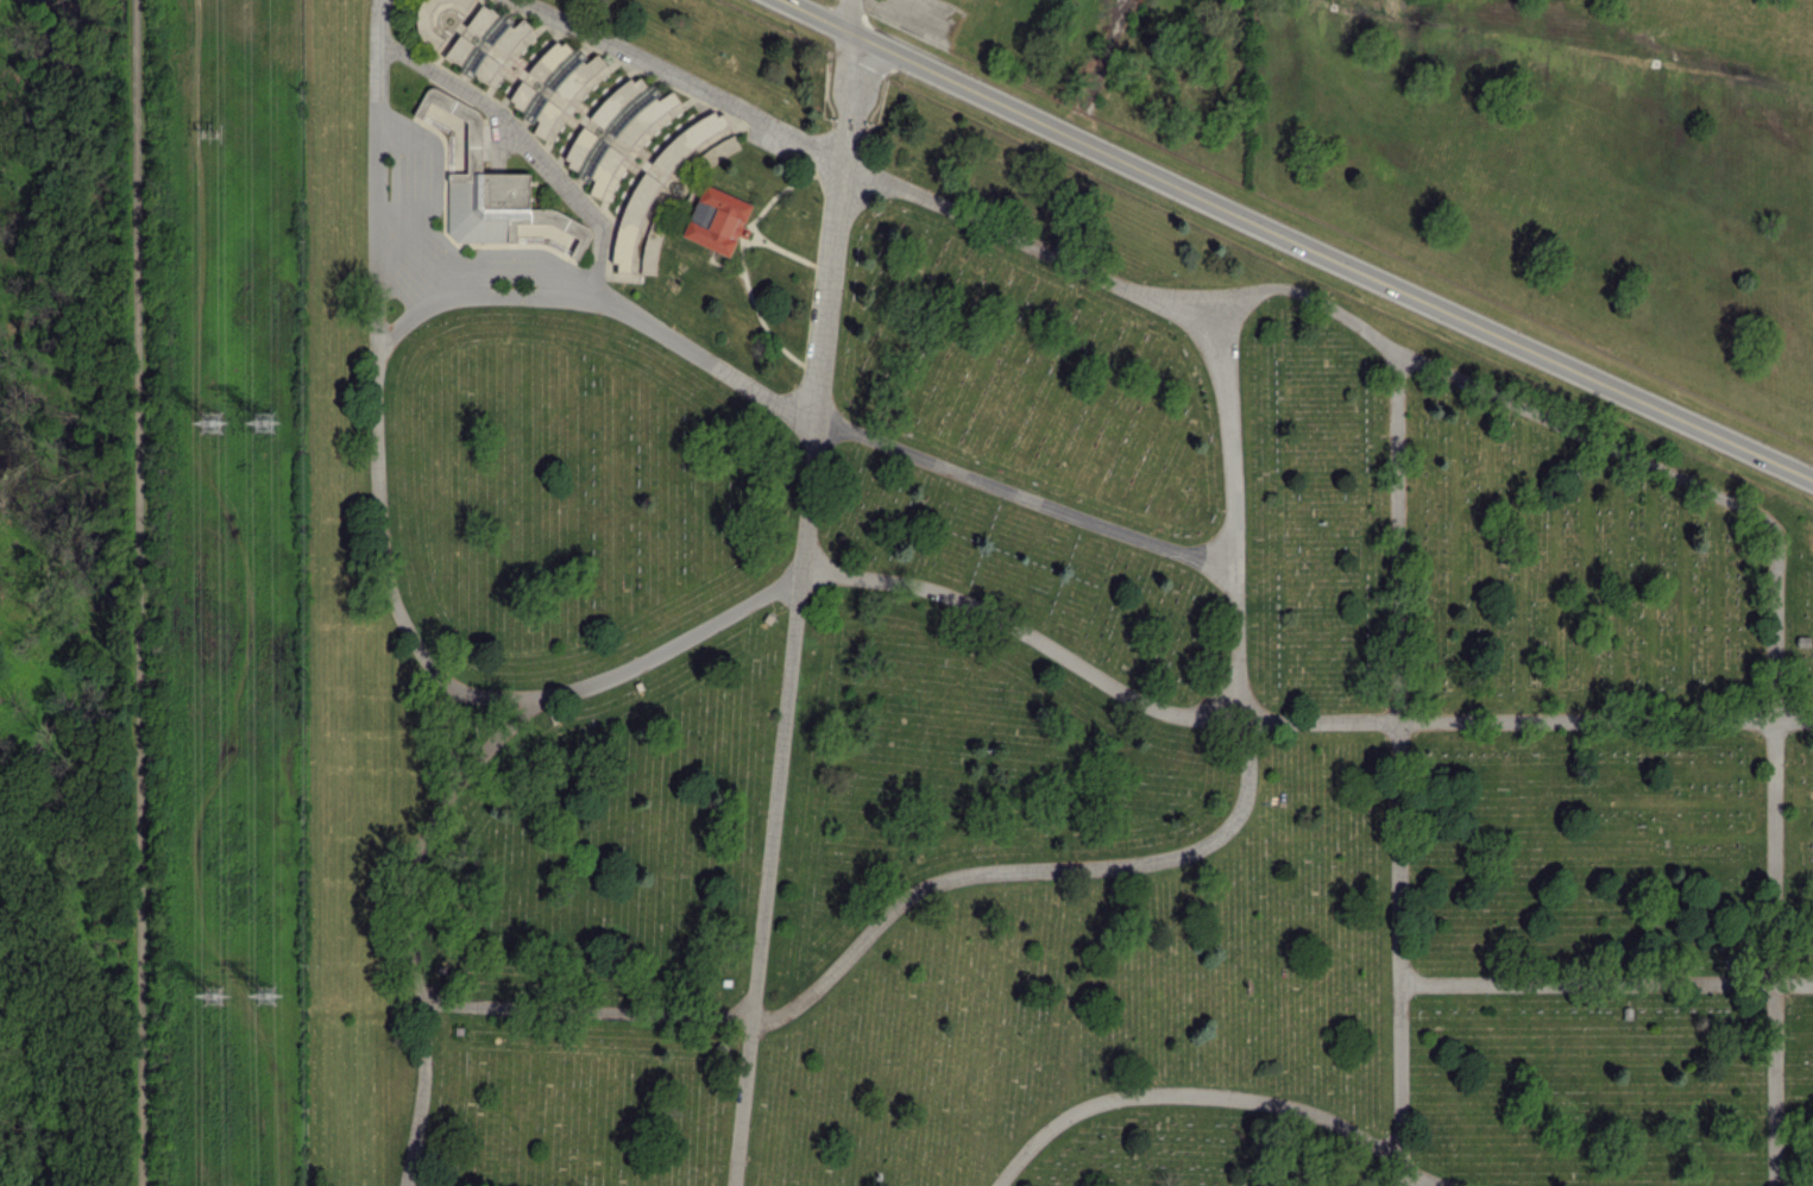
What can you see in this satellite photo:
road: (842, 11)
building: (497, 29)
building: (553, 84)
building: (615, 131)
road: (527, 150)
building: (715, 151)
building: (717, 220)
road: (1303, 238)
building: (650, 247)
road: (1441, 373)
road: (791, 415)
power tower: (271, 419)
power tower: (210, 424)
road: (141, 593)
road: (397, 605)
road: (795, 607)
park: (987, 667)
road: (1087, 671)
road: (486, 693)
road: (1399, 769)
road: (1070, 870)
road: (1606, 985)
power tower: (275, 989)
power tower: (214, 990)
road: (1215, 1098)

